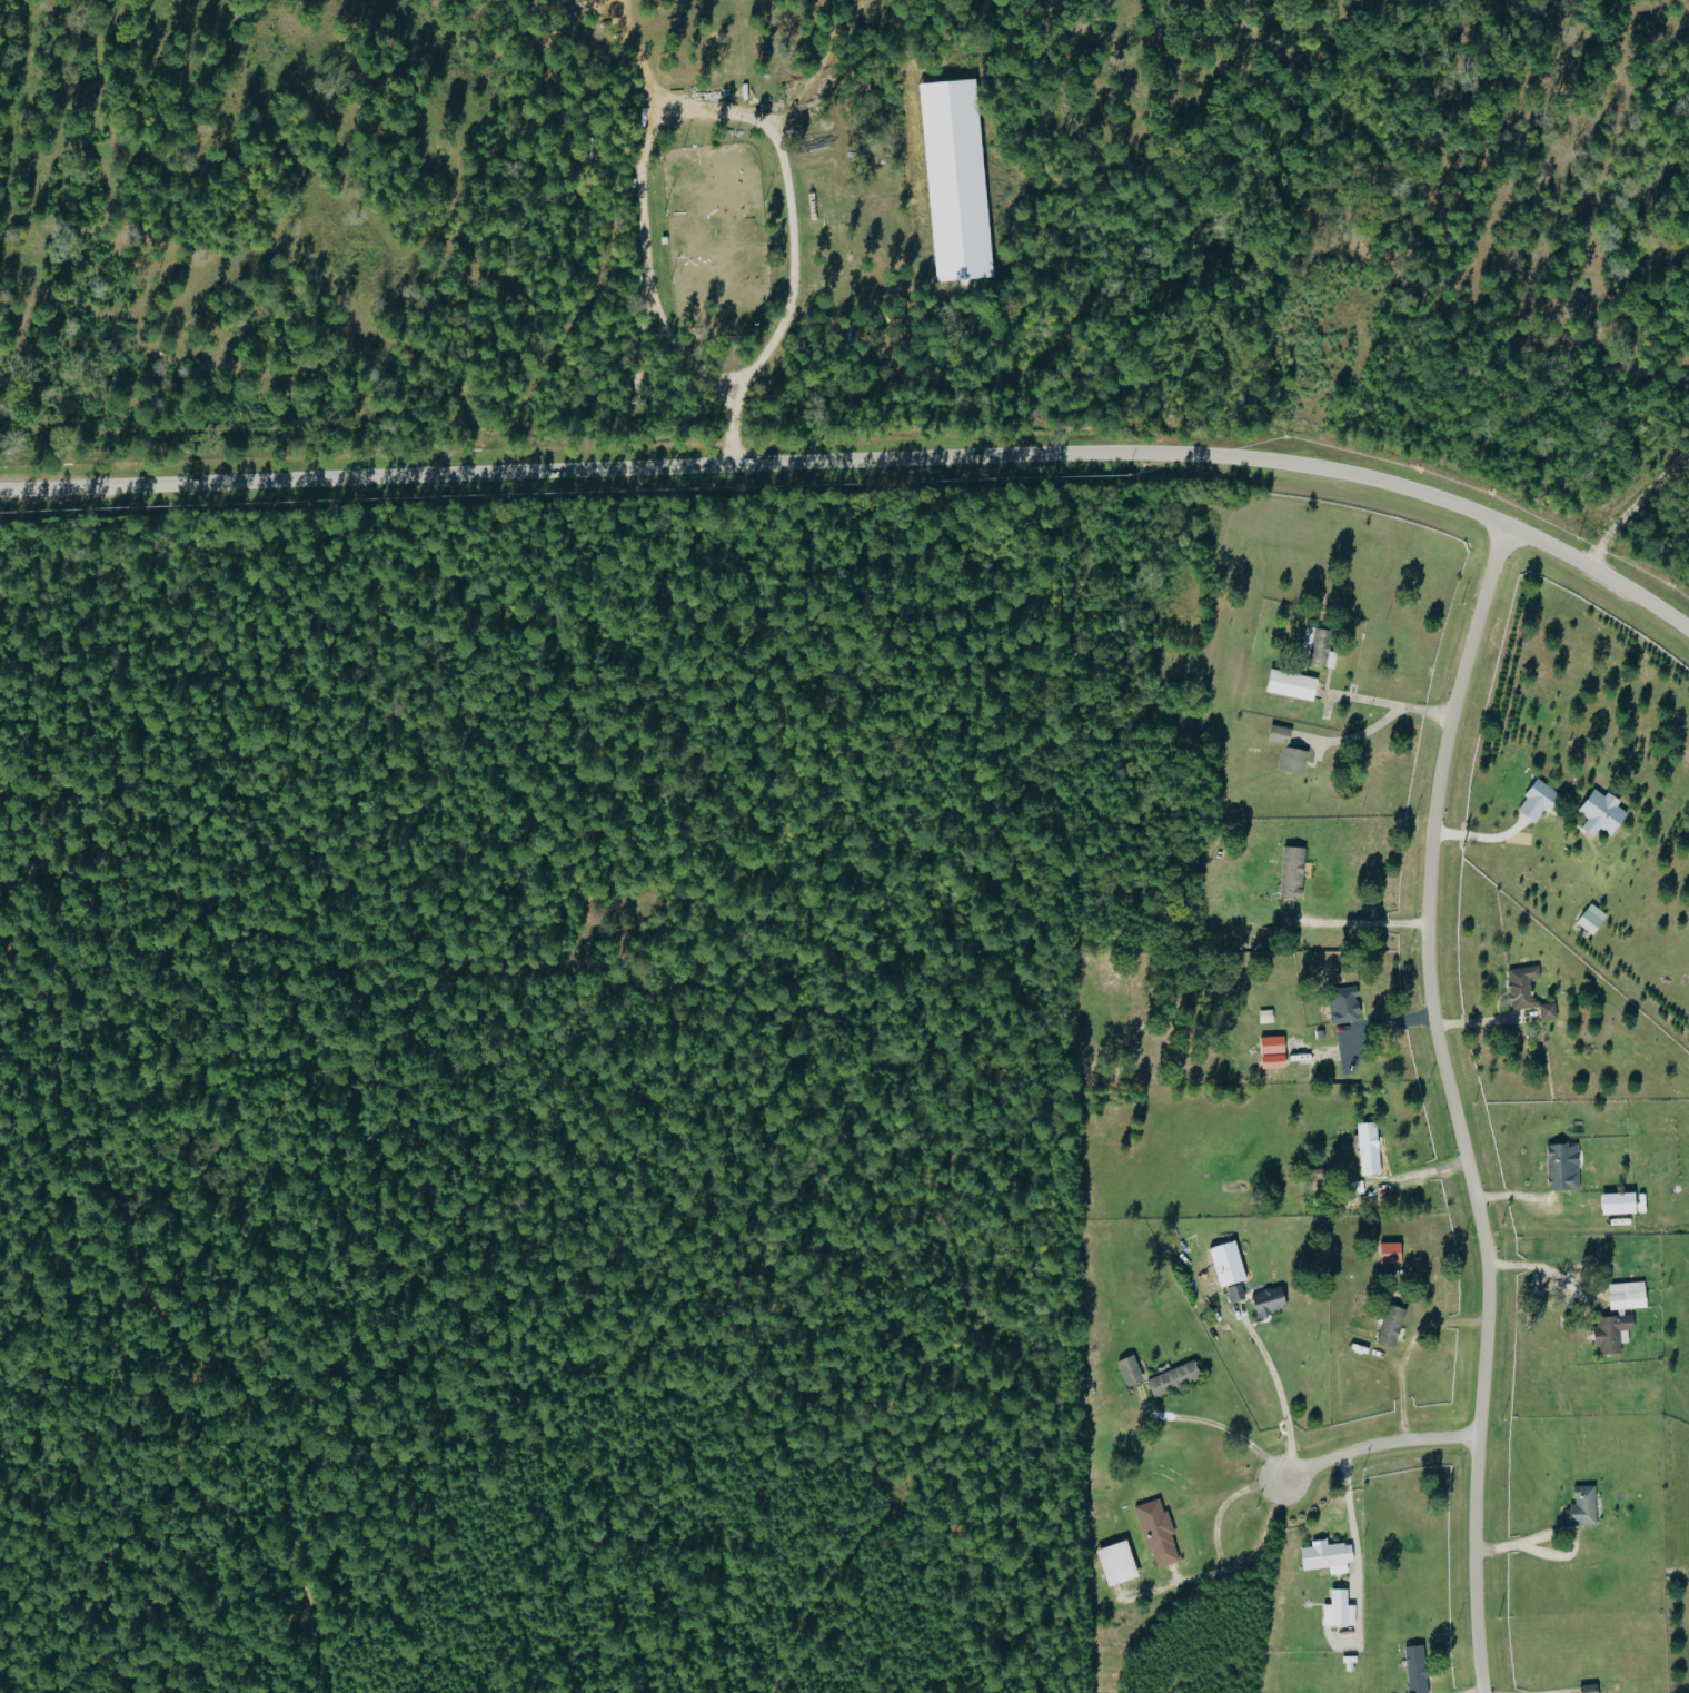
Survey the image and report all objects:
road: (643, 58)
road: (749, 120)
building: (951, 179)
road: (865, 457)
building: (1313, 646)
building: (1288, 685)
road: (1390, 703)
building: (1276, 735)
building: (1290, 761)
building: (1534, 802)
building: (1599, 813)
building: (1290, 873)
building: (1589, 920)
road: (1361, 929)
building: (1526, 992)
building: (1342, 1007)
building: (1269, 1053)
road: (1453, 1105)
building: (1367, 1150)
building: (1559, 1169)
building: (1615, 1205)
building: (1387, 1254)
building: (1233, 1294)
building: (1625, 1297)
building: (1265, 1303)
building: (1389, 1326)
building: (1610, 1334)
road: (1404, 1352)
building: (1127, 1369)
building: (1171, 1379)
road: (1284, 1394)
road: (1218, 1429)
road: (1375, 1443)
building: (1580, 1507)
building: (1155, 1533)
building: (1324, 1557)
road: (1214, 1560)
building: (1115, 1563)
building: (1338, 1608)
building: (1413, 1669)
building: (1587, 1689)

